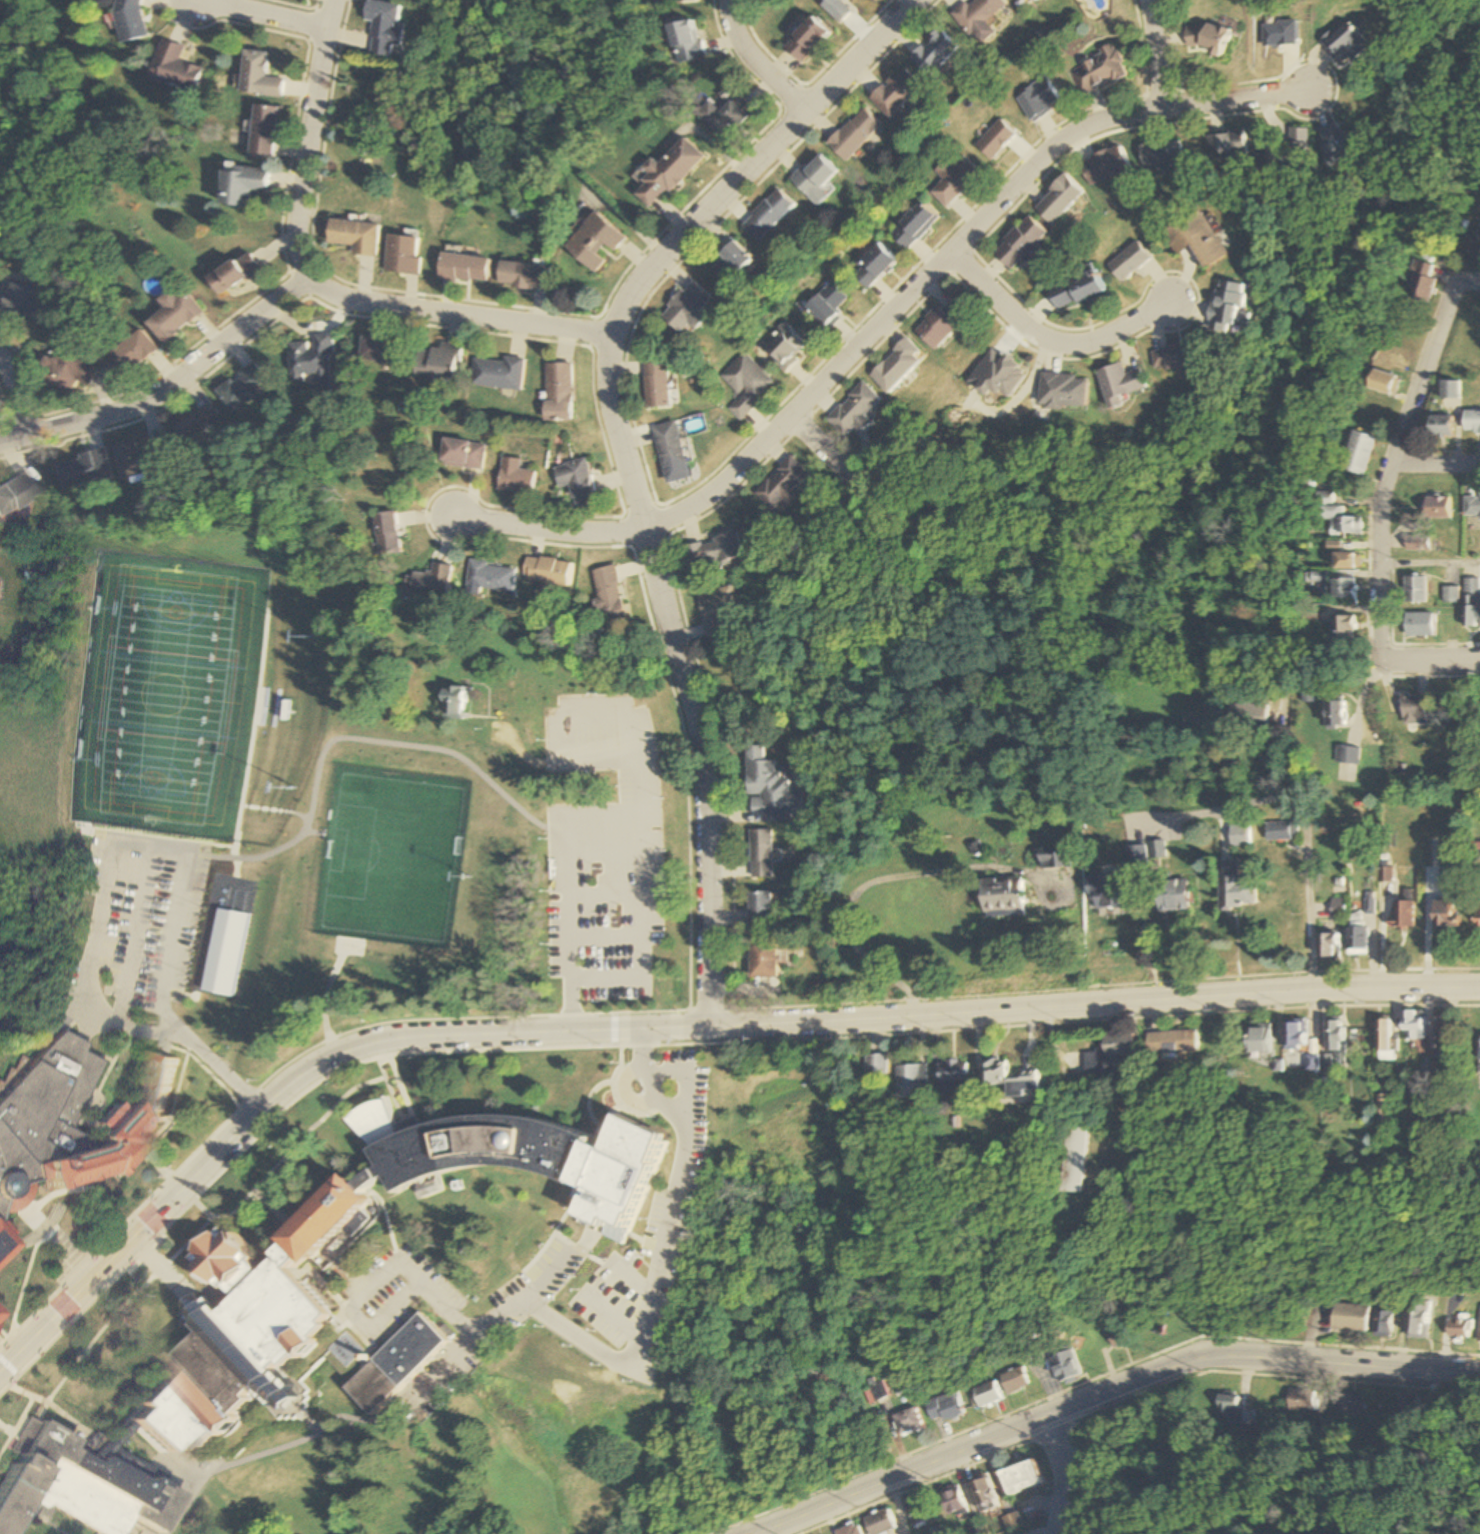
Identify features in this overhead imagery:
road: (257, 16)
road: (1151, 52)
road: (753, 65)
road: (948, 252)
road: (1469, 280)
road: (320, 284)
road: (1048, 334)
road: (1425, 373)
road: (183, 380)
road: (21, 395)
road: (15, 439)
road: (820, 445)
road: (622, 454)
road: (1436, 465)
road: (548, 528)
road: (1380, 561)
road: (1430, 564)
road: (1382, 658)
park: (164, 693)
road: (355, 737)
road: (524, 754)
road: (247, 758)
road: (276, 810)
road: (633, 813)
road: (105, 849)
road: (599, 852)
parking lot: (600, 853)
park: (396, 856)
road: (600, 898)
parking lot: (132, 934)
road: (637, 934)
road: (130, 936)
road: (601, 936)
road: (206, 942)
building: (231, 950)
road: (675, 1023)
road: (376, 1024)
road: (616, 1029)
road: (549, 1047)
road: (642, 1049)
road: (220, 1068)
road: (701, 1079)
road: (397, 1081)
road: (387, 1089)
road: (598, 1092)
road: (629, 1101)
road: (177, 1102)
road: (619, 1112)
building: (128, 1123)
road: (288, 1154)
building: (523, 1159)
road: (155, 1163)
road: (181, 1190)
road: (272, 1207)
road: (32, 1209)
road: (52, 1209)
road: (180, 1215)
road: (24, 1216)
road: (380, 1225)
road: (564, 1237)
road: (592, 1240)
road: (74, 1241)
building: (3, 1249)
road: (154, 1265)
road: (29, 1268)
road: (544, 1274)
road: (661, 1275)
road: (381, 1279)
road: (59, 1287)
road: (601, 1288)
road: (341, 1302)
parking lot: (449, 1308)
road: (118, 1314)
road: (169, 1319)
road: (340, 1322)
road: (468, 1350)
building: (395, 1363)
road: (9, 1365)
building: (194, 1374)
road: (1109, 1394)
road: (295, 1408)
road: (24, 1412)
road: (71, 1416)
road: (8, 1429)
road: (351, 1460)
road: (1067, 1475)
road: (929, 1483)
road: (187, 1489)

